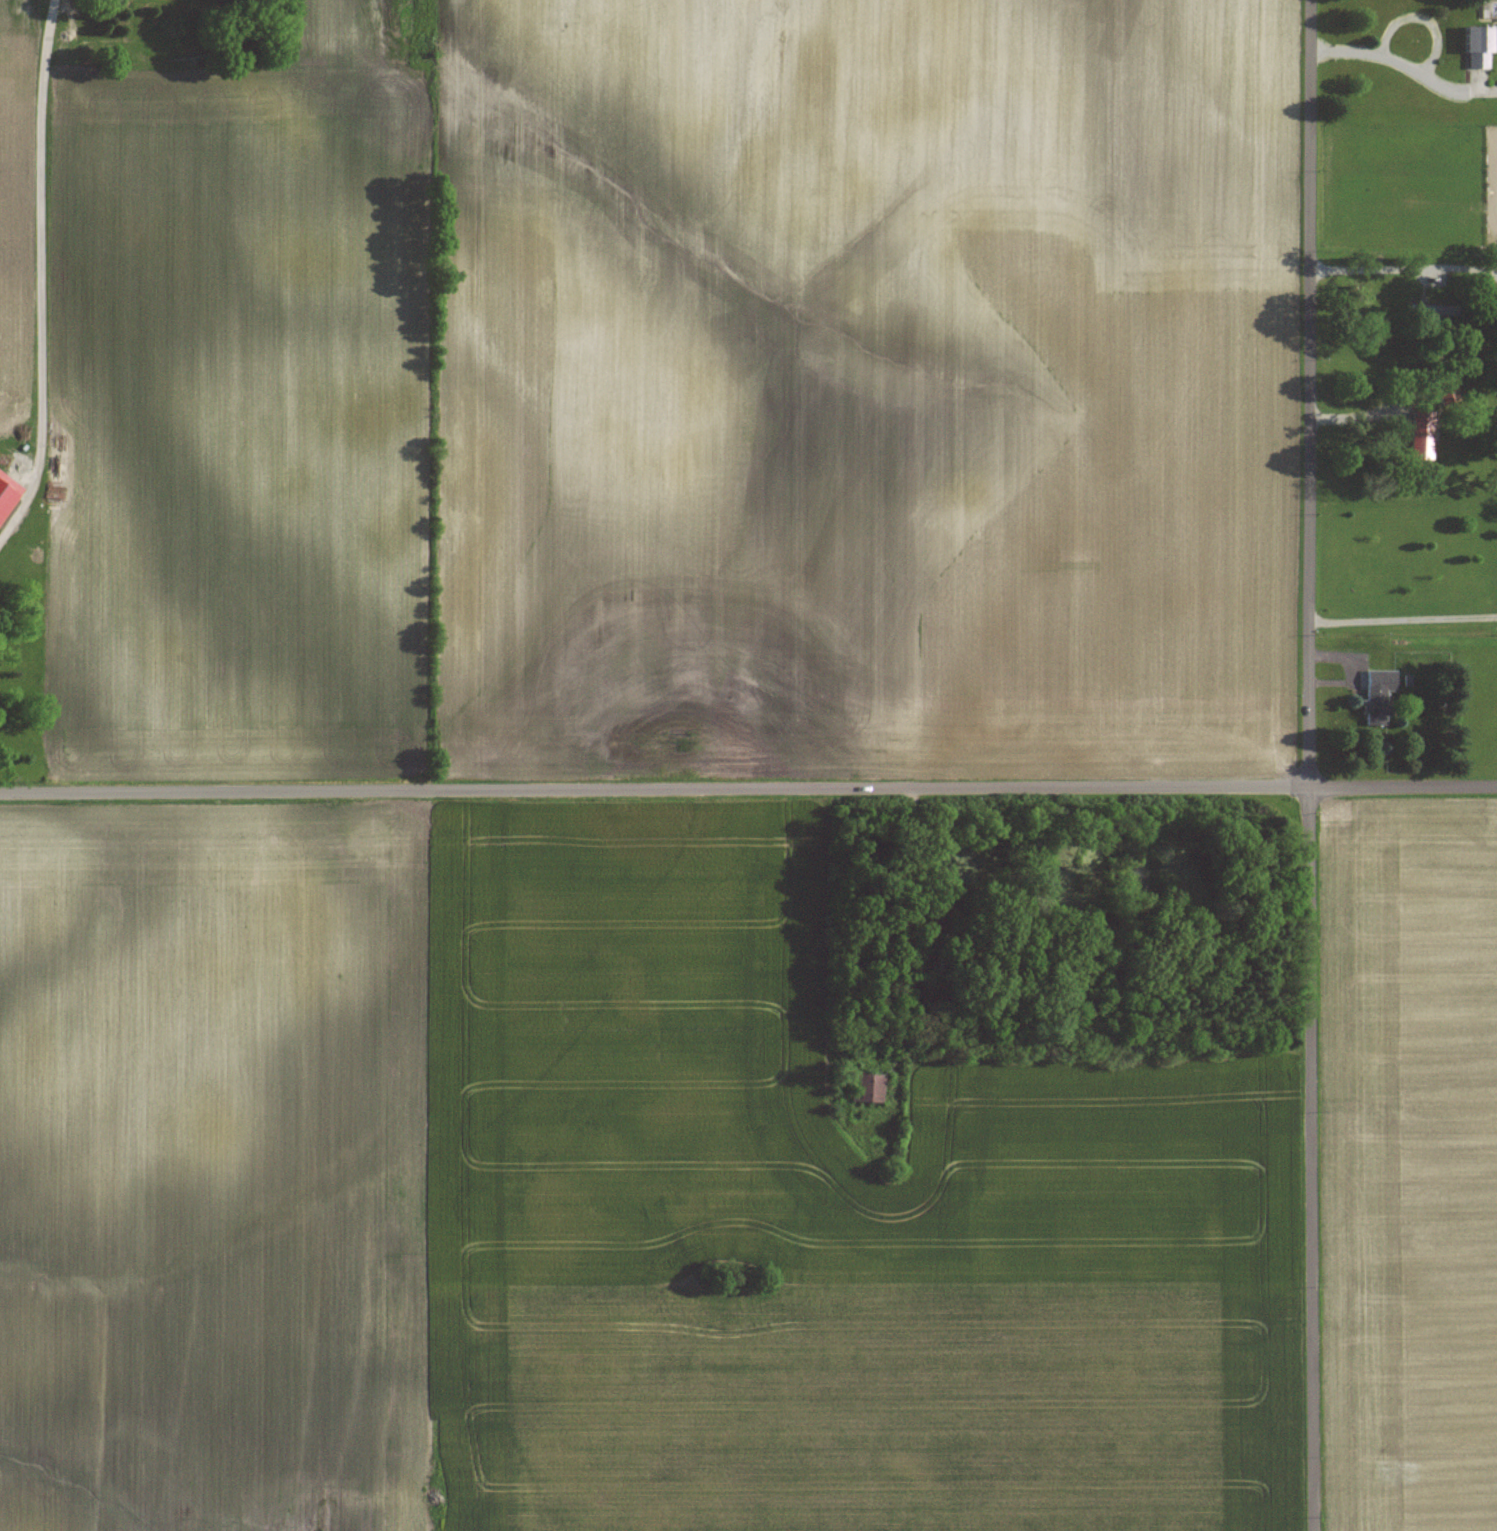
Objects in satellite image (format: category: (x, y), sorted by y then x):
building: (1474, 46)
road: (1425, 60)
road: (1454, 86)
road: (1370, 267)
road: (46, 279)
building: (1440, 310)
building: (1443, 390)
building: (1419, 436)
road: (1403, 617)
building: (1375, 694)
road: (1310, 765)
road: (748, 787)
building: (865, 1087)
crop: (590, 1201)

